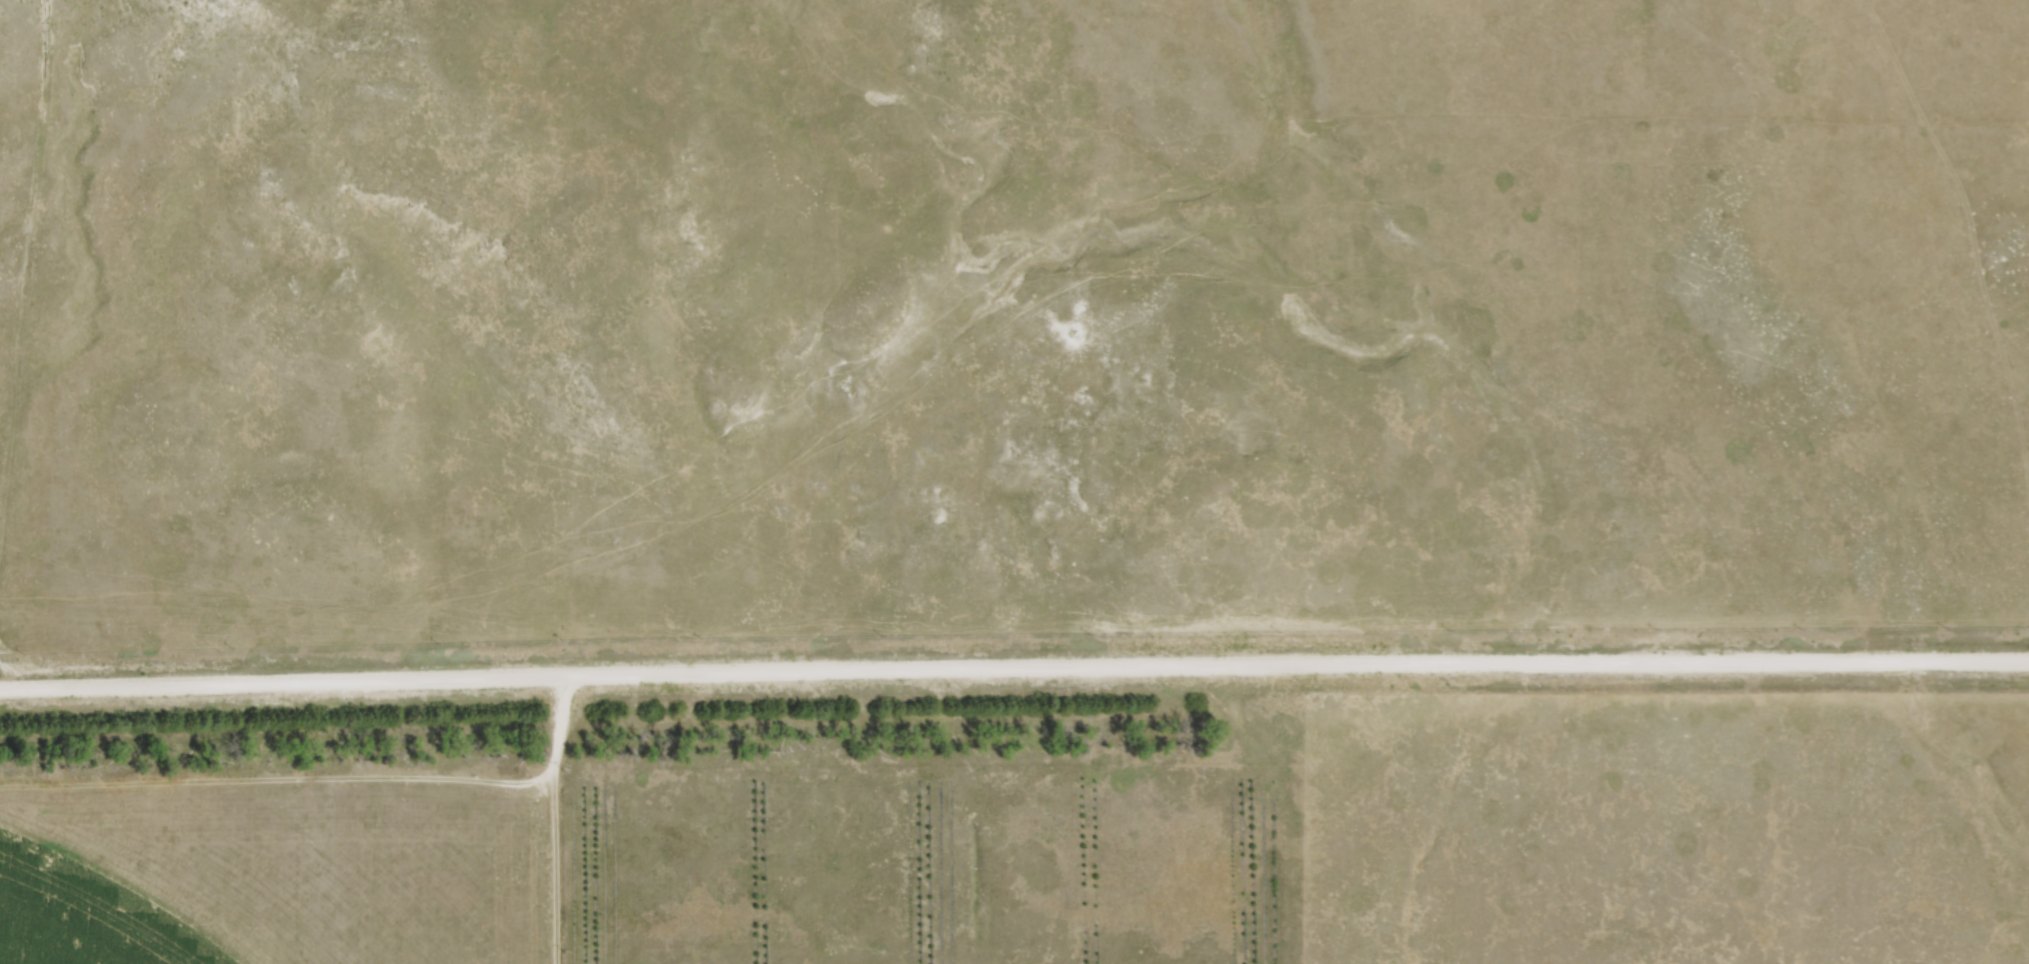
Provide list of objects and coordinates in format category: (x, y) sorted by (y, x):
road: (1014, 670)

